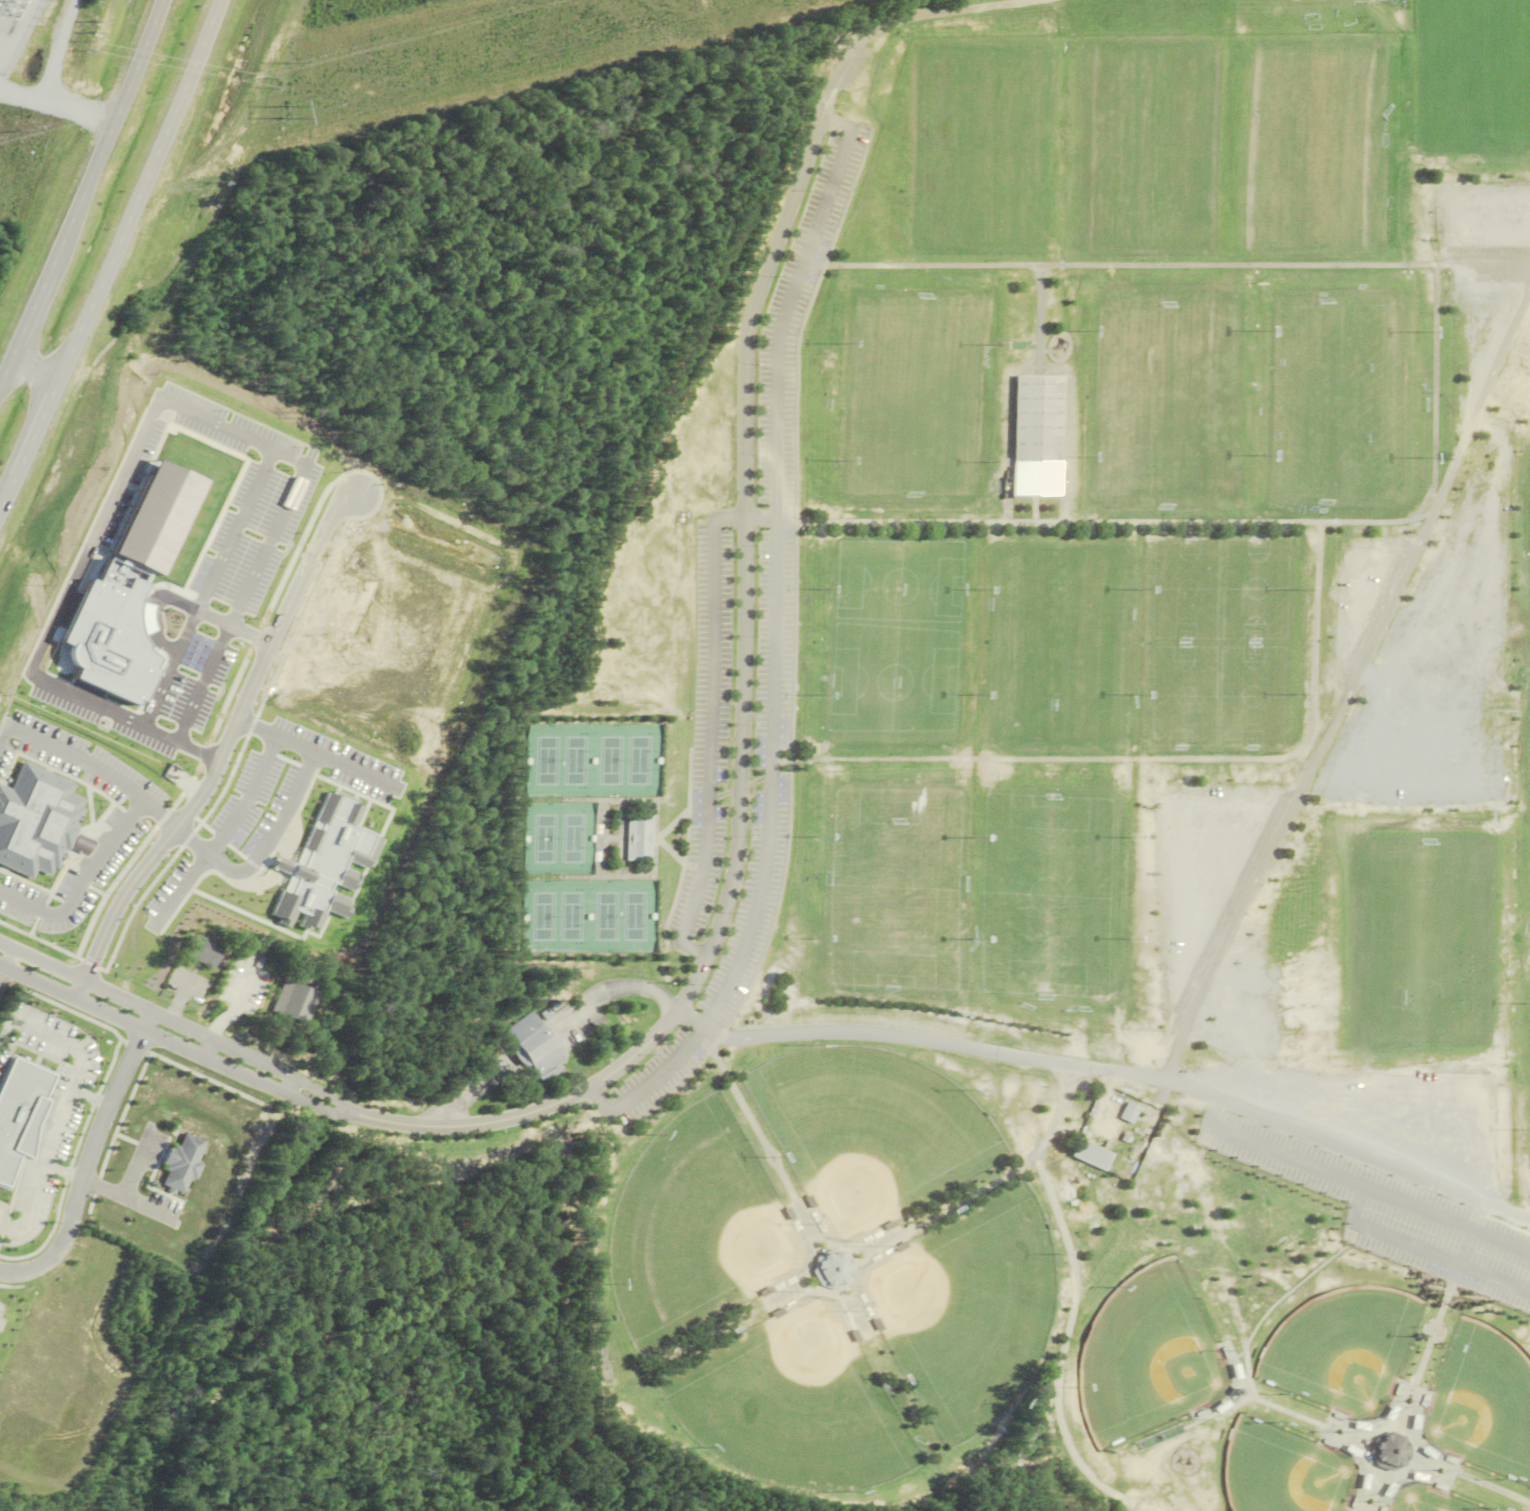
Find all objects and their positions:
road: (949, 13)
park: (1476, 15)
power substation: (13, 26)
park: (1102, 92)
park: (1173, 92)
park: (1283, 92)
park: (1354, 92)
park: (1475, 103)
power tower: (287, 112)
road: (115, 118)
park: (978, 146)
road: (141, 189)
park: (1102, 199)
park: (1172, 199)
park: (1281, 201)
park: (1354, 203)
road: (38, 295)
park: (1123, 349)
park: (1194, 349)
park: (1346, 355)
road: (35, 366)
road: (5, 367)
park: (912, 402)
parking lot: (788, 436)
building: (1036, 436)
road: (29, 442)
park: (1346, 452)
park: (1159, 455)
park: (897, 589)
park: (1057, 590)
park: (1218, 643)
road: (776, 644)
road: (205, 683)
road: (1350, 684)
road: (746, 690)
park: (895, 695)
park: (1056, 696)
road: (714, 717)
parking lot: (712, 731)
road: (223, 757)
park: (612, 760)
park: (641, 760)
park: (548, 761)
park: (577, 761)
road: (285, 818)
park: (1064, 824)
building: (40, 826)
park: (976, 826)
park: (903, 830)
building: (644, 838)
park: (549, 839)
park: (577, 839)
road: (93, 868)
parking lot: (761, 902)
park: (642, 916)
park: (549, 917)
park: (577, 917)
park: (613, 917)
park: (1423, 940)
park: (902, 951)
building: (202, 952)
park: (1074, 953)
road: (2, 969)
road: (626, 987)
building: (293, 1003)
road: (193, 1029)
road: (922, 1040)
building: (536, 1044)
road: (189, 1053)
parking lot: (661, 1076)
road: (457, 1102)
building: (1130, 1112)
park: (871, 1133)
road: (1326, 1134)
building: (1091, 1156)
road: (89, 1159)
road: (127, 1192)
road: (1506, 1207)
park: (696, 1229)
building: (833, 1271)
park: (969, 1310)
park: (1341, 1349)
park: (1146, 1355)
park: (1481, 1403)
park: (793, 1407)
building: (1389, 1451)
park: (1280, 1471)
park: (1421, 1500)

